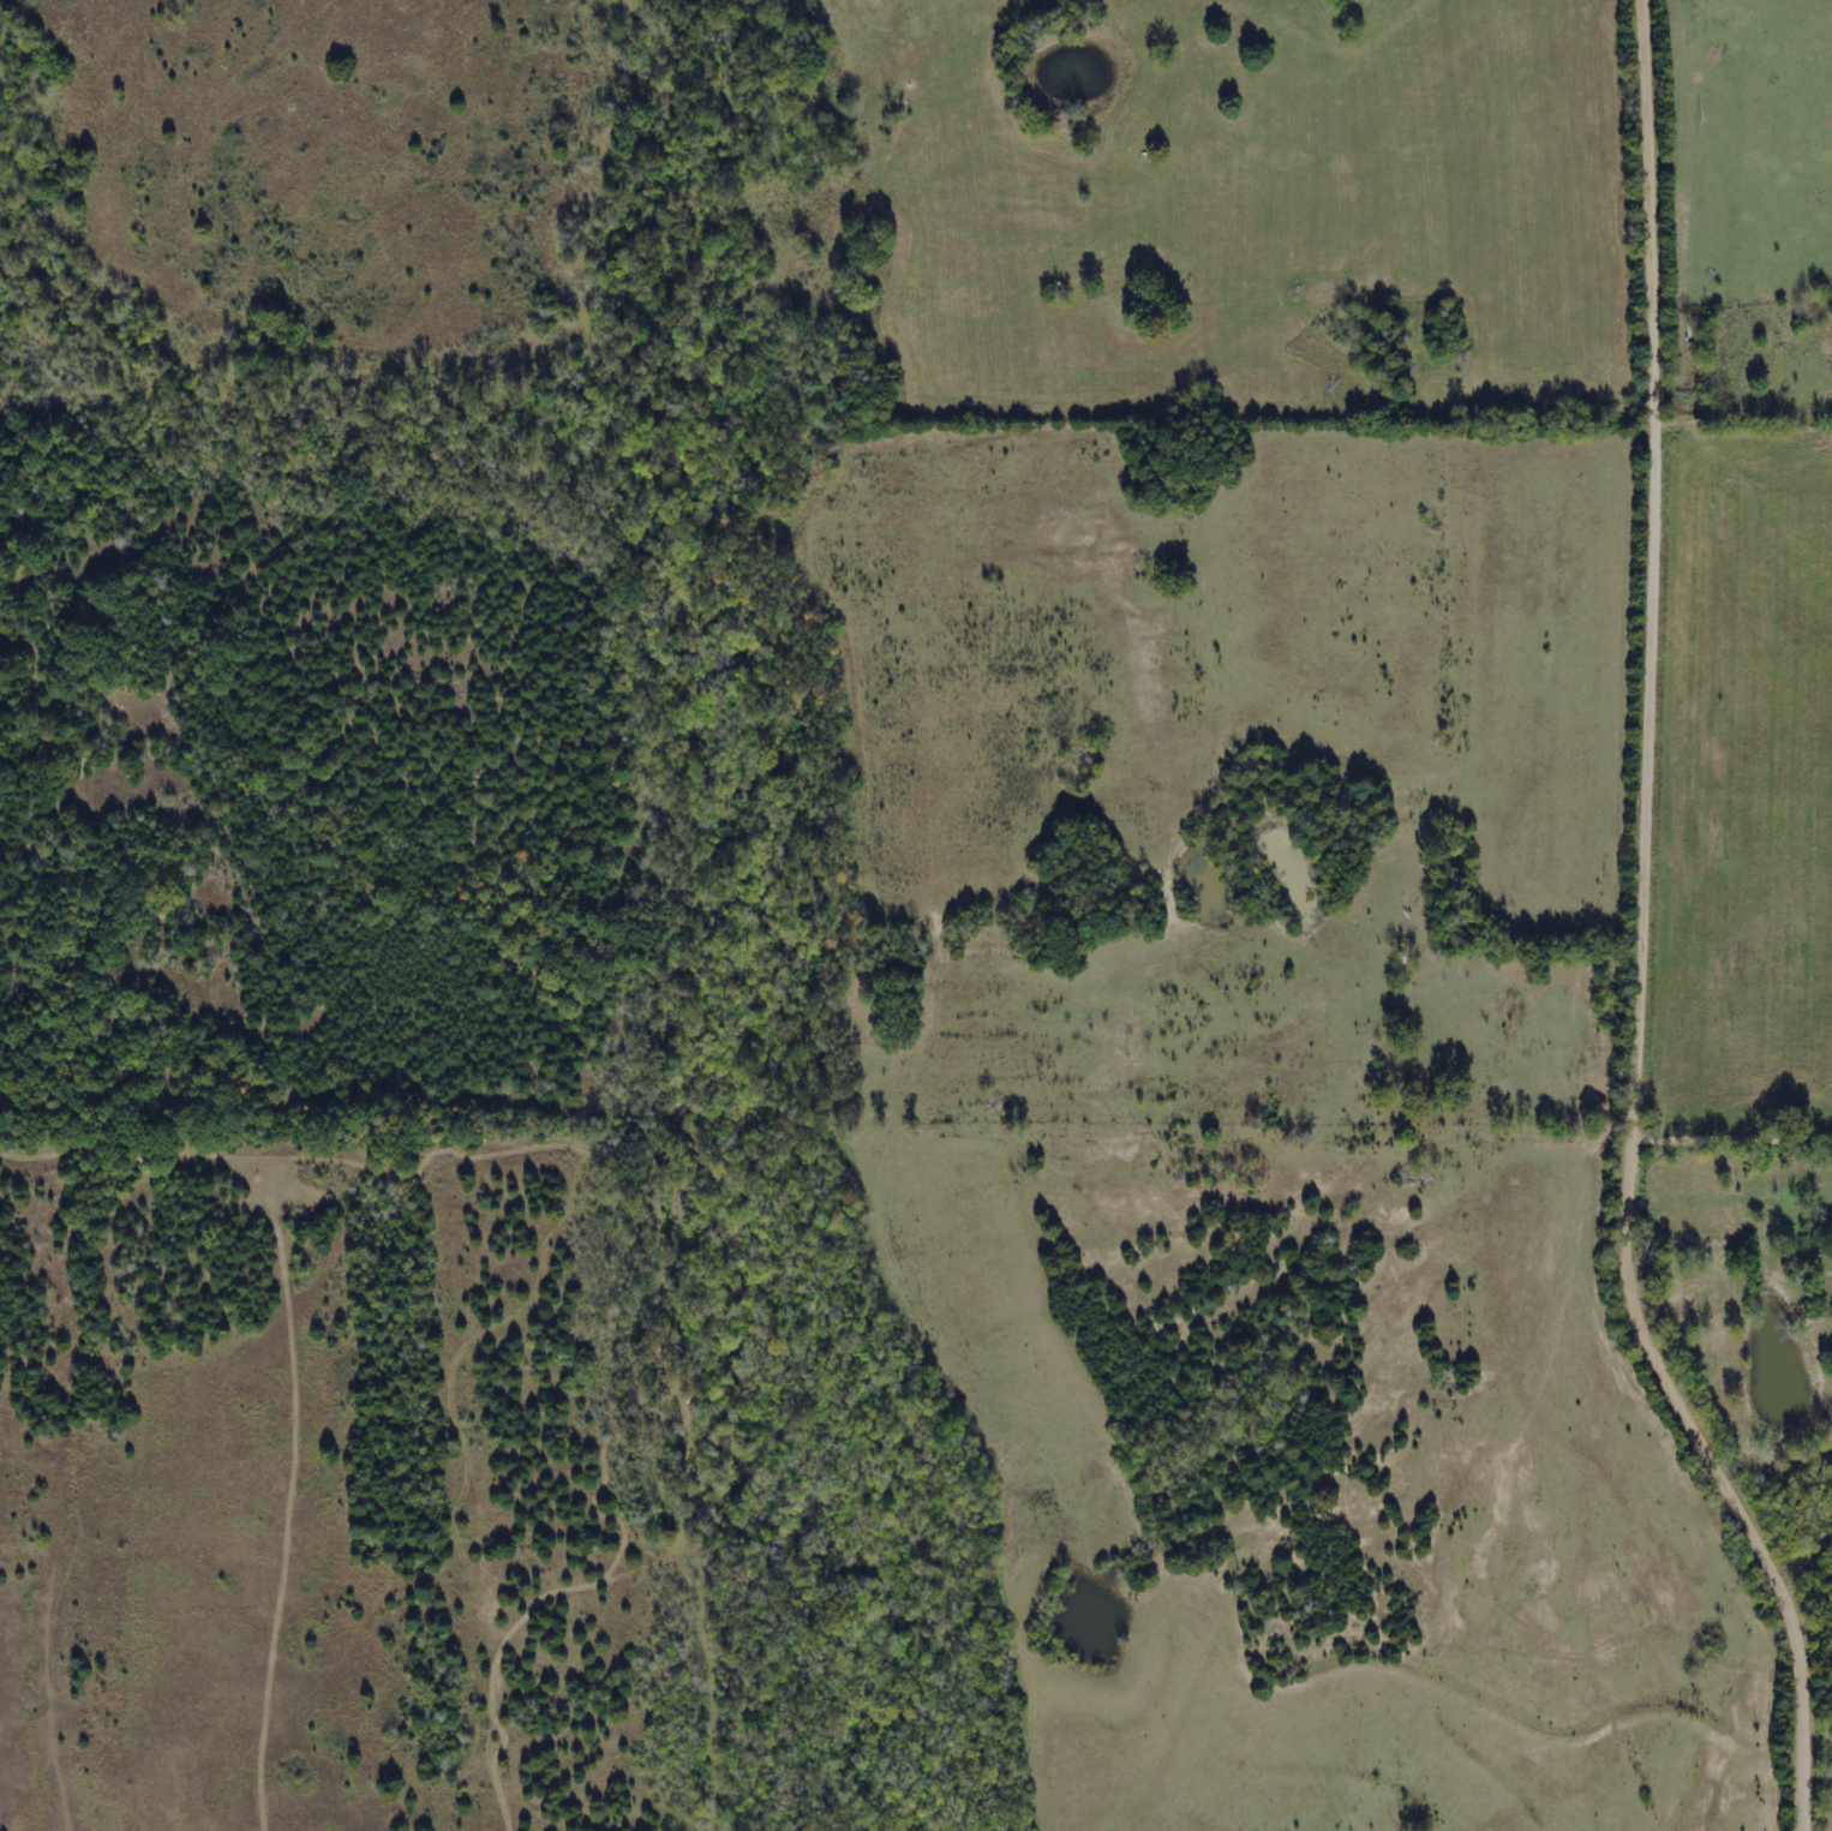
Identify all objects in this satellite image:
road: (1634, 937)
road: (1732, 1138)
road: (1818, 1761)

